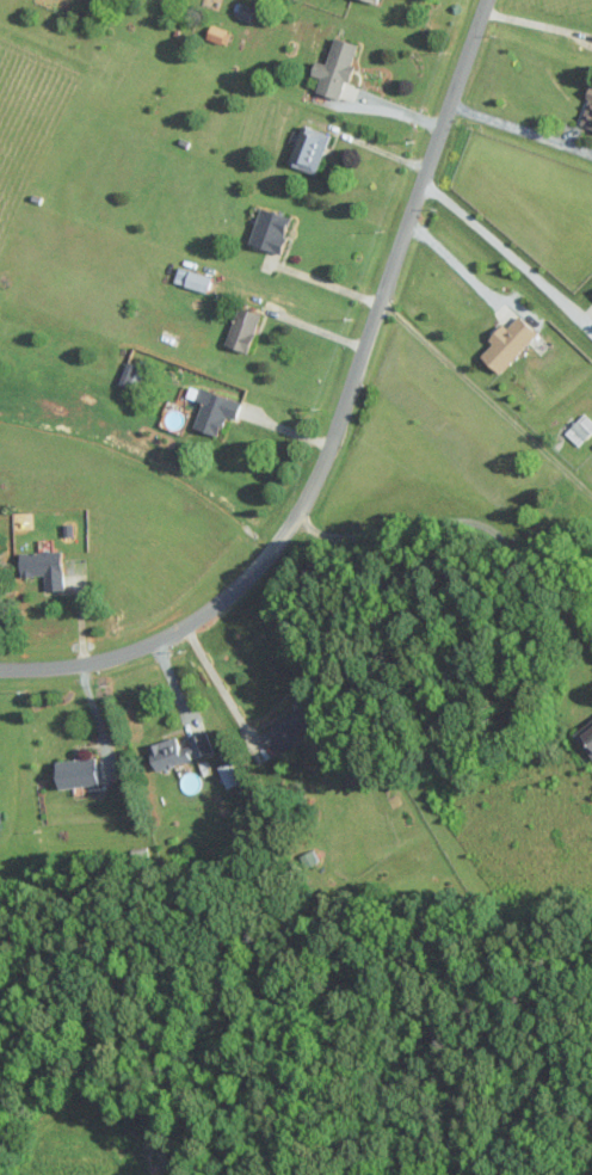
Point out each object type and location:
building: (376, 1)
building: (339, 70)
building: (587, 116)
road: (523, 130)
building: (310, 149)
building: (272, 230)
road: (507, 252)
road: (458, 266)
building: (193, 279)
road: (329, 282)
building: (245, 330)
building: (510, 344)
building: (129, 374)
road: (488, 395)
building: (215, 411)
road: (340, 426)
building: (580, 430)
road: (465, 519)
building: (45, 566)
road: (222, 679)
building: (289, 730)
building: (586, 736)
building: (180, 750)
building: (79, 771)
building: (230, 774)

